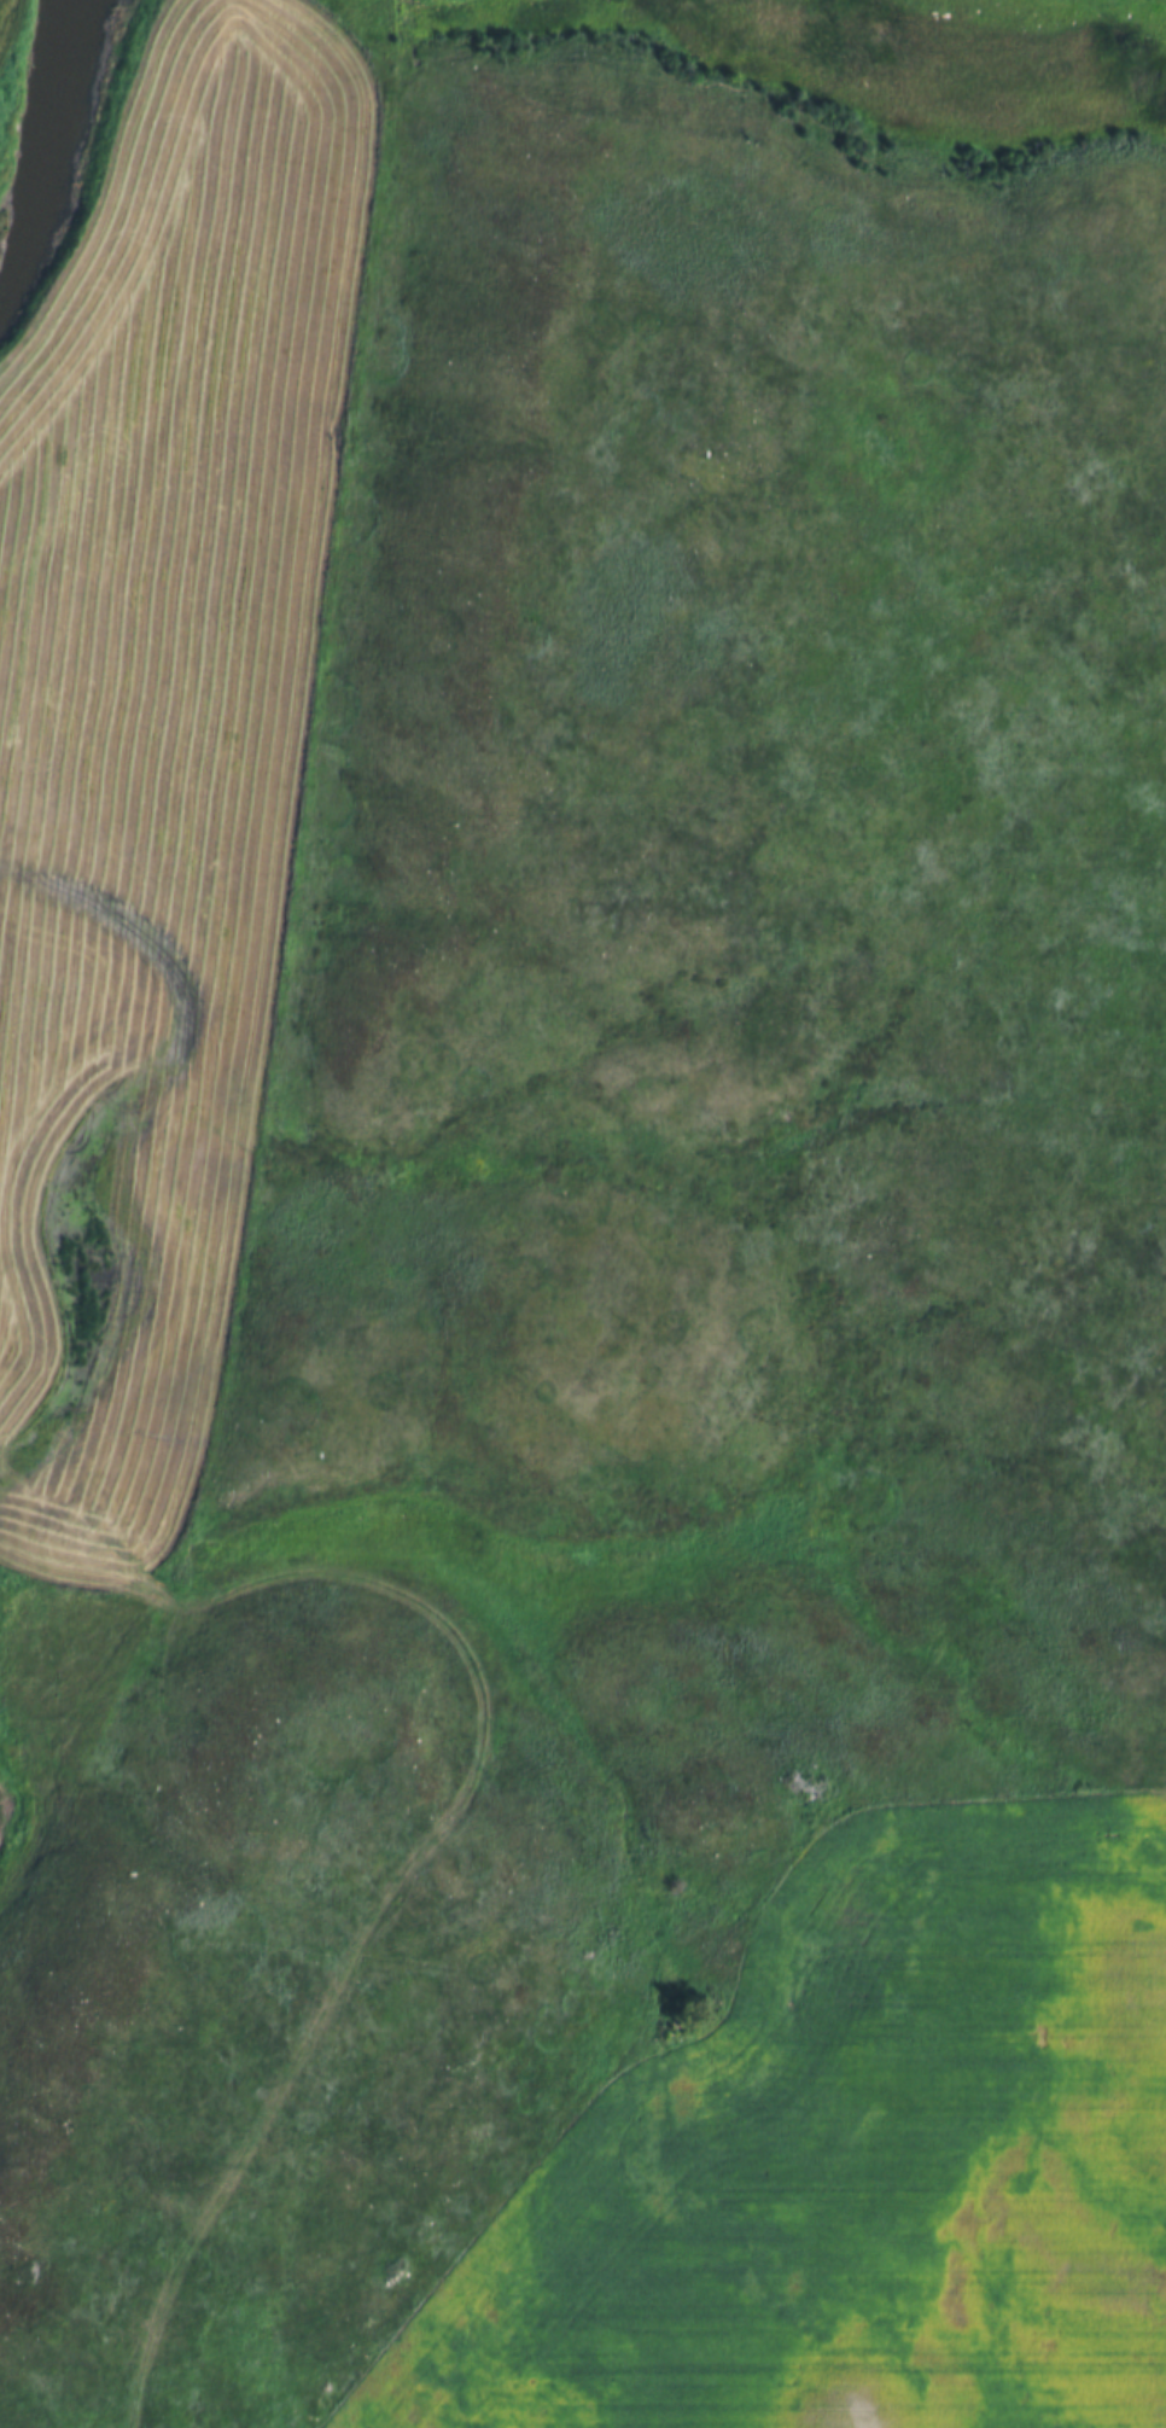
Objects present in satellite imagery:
river: (53, 147)

